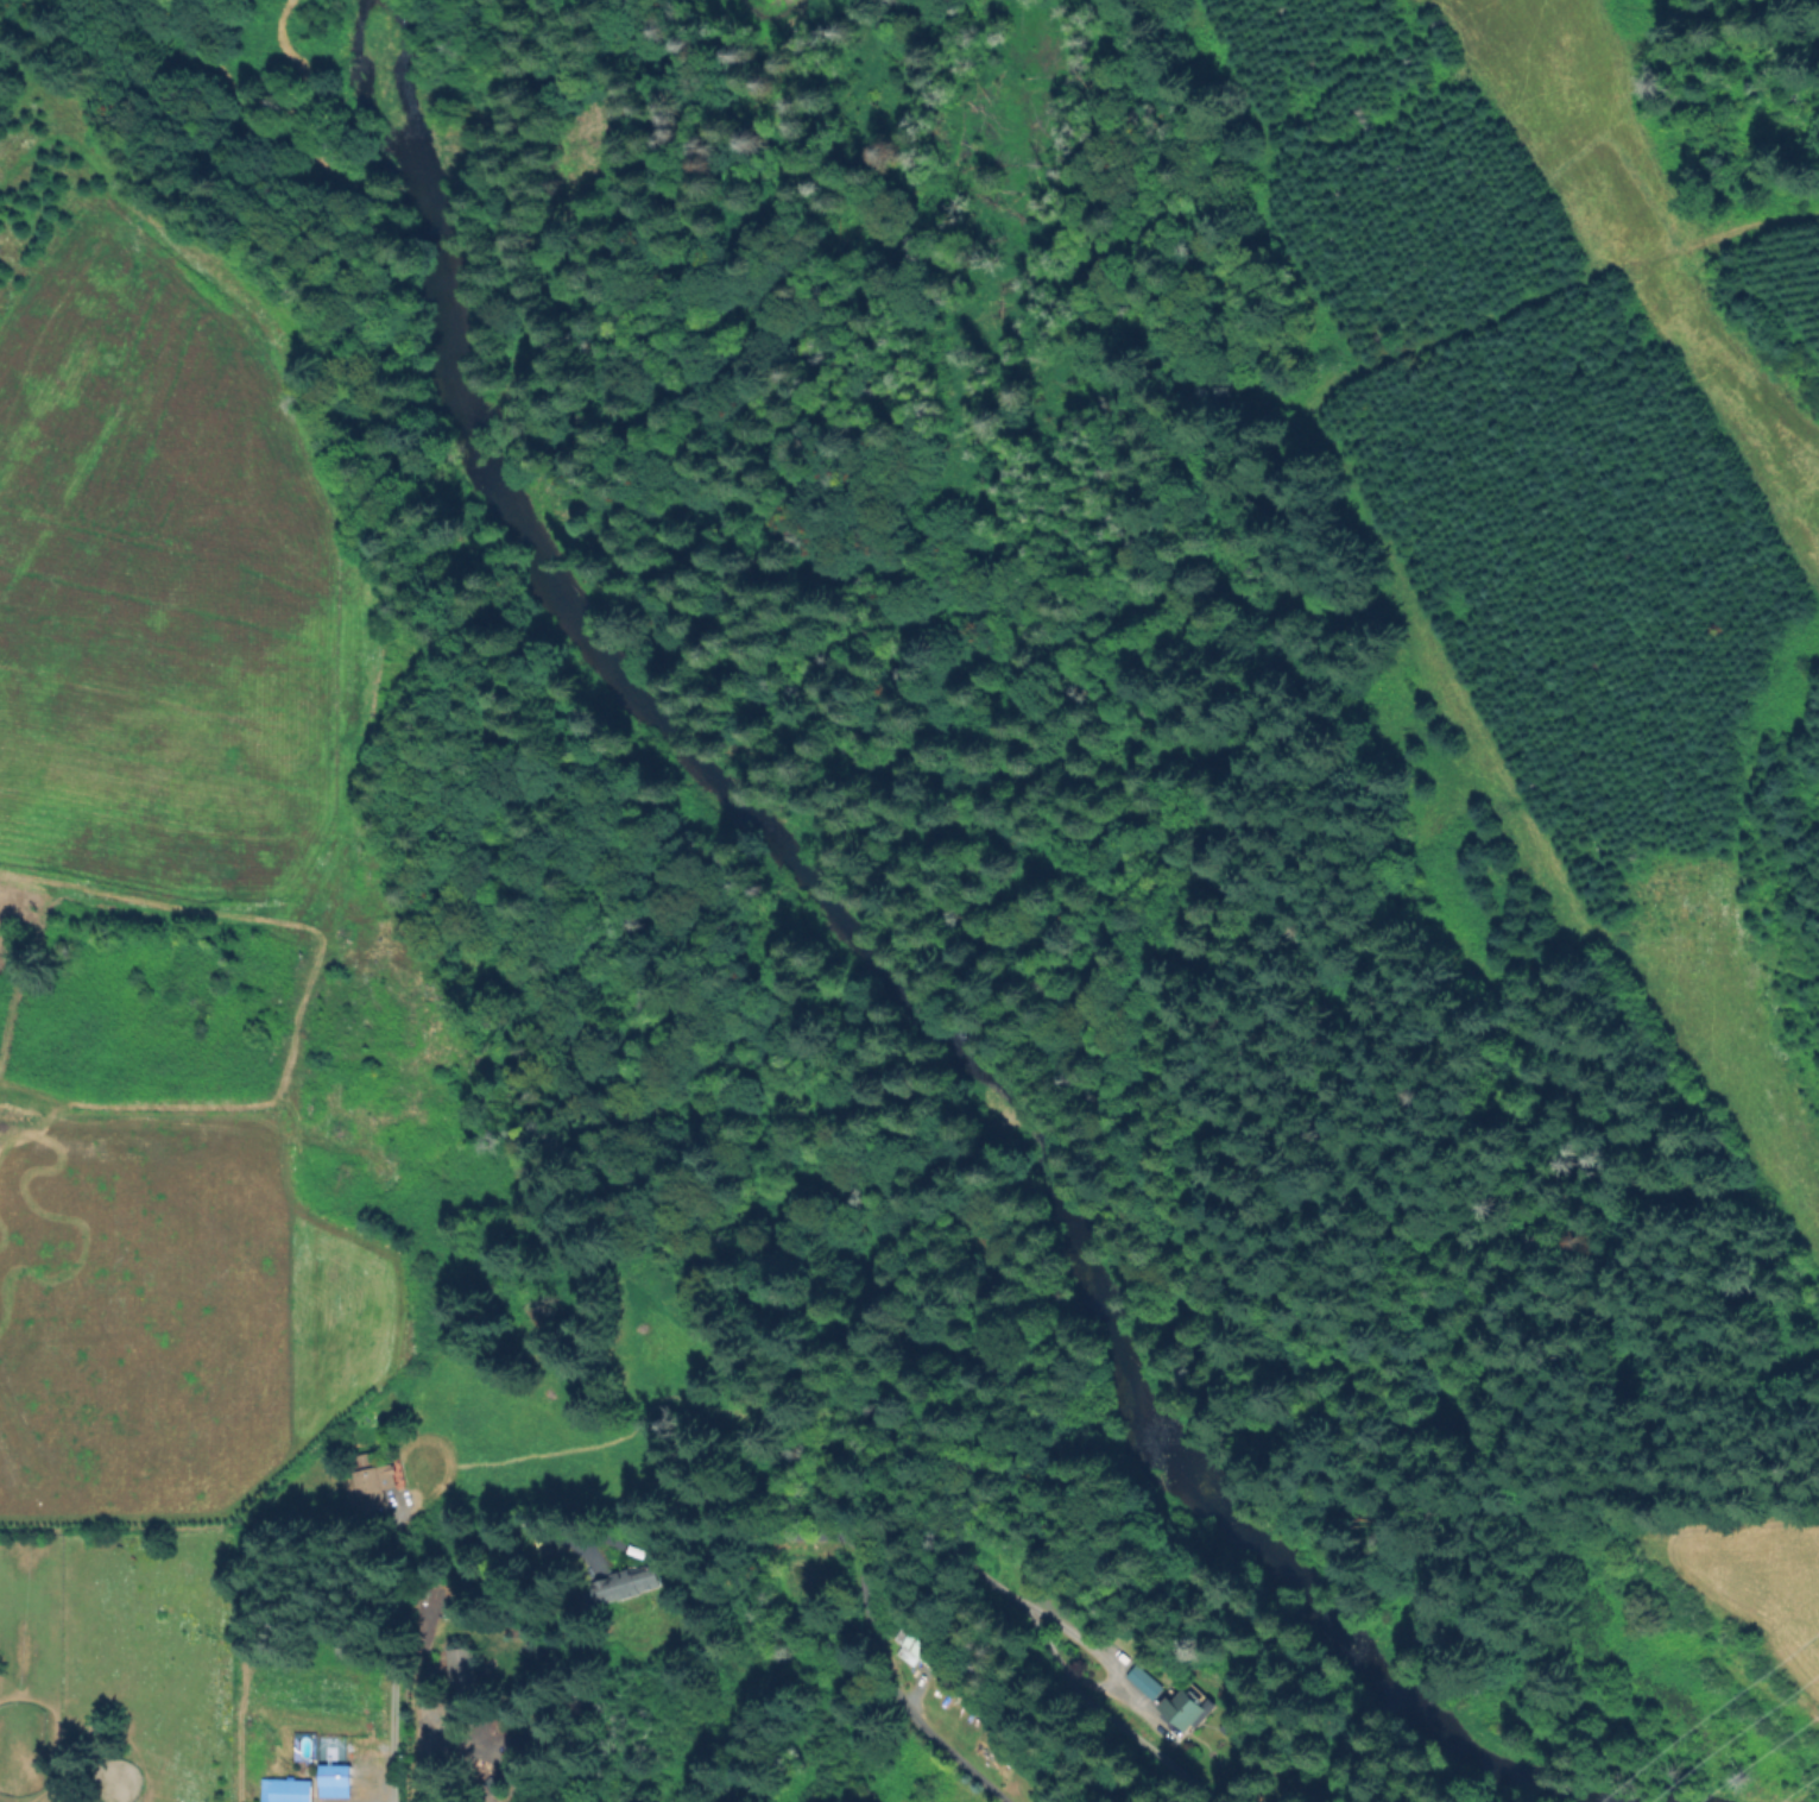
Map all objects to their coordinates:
building: (374, 1481)
road: (922, 1538)
road: (716, 1545)
building: (627, 1583)
building: (920, 1640)
building: (463, 1674)
road: (393, 1691)
building: (1188, 1708)
building: (498, 1734)
road: (423, 1766)
building: (336, 1778)
building: (288, 1790)

